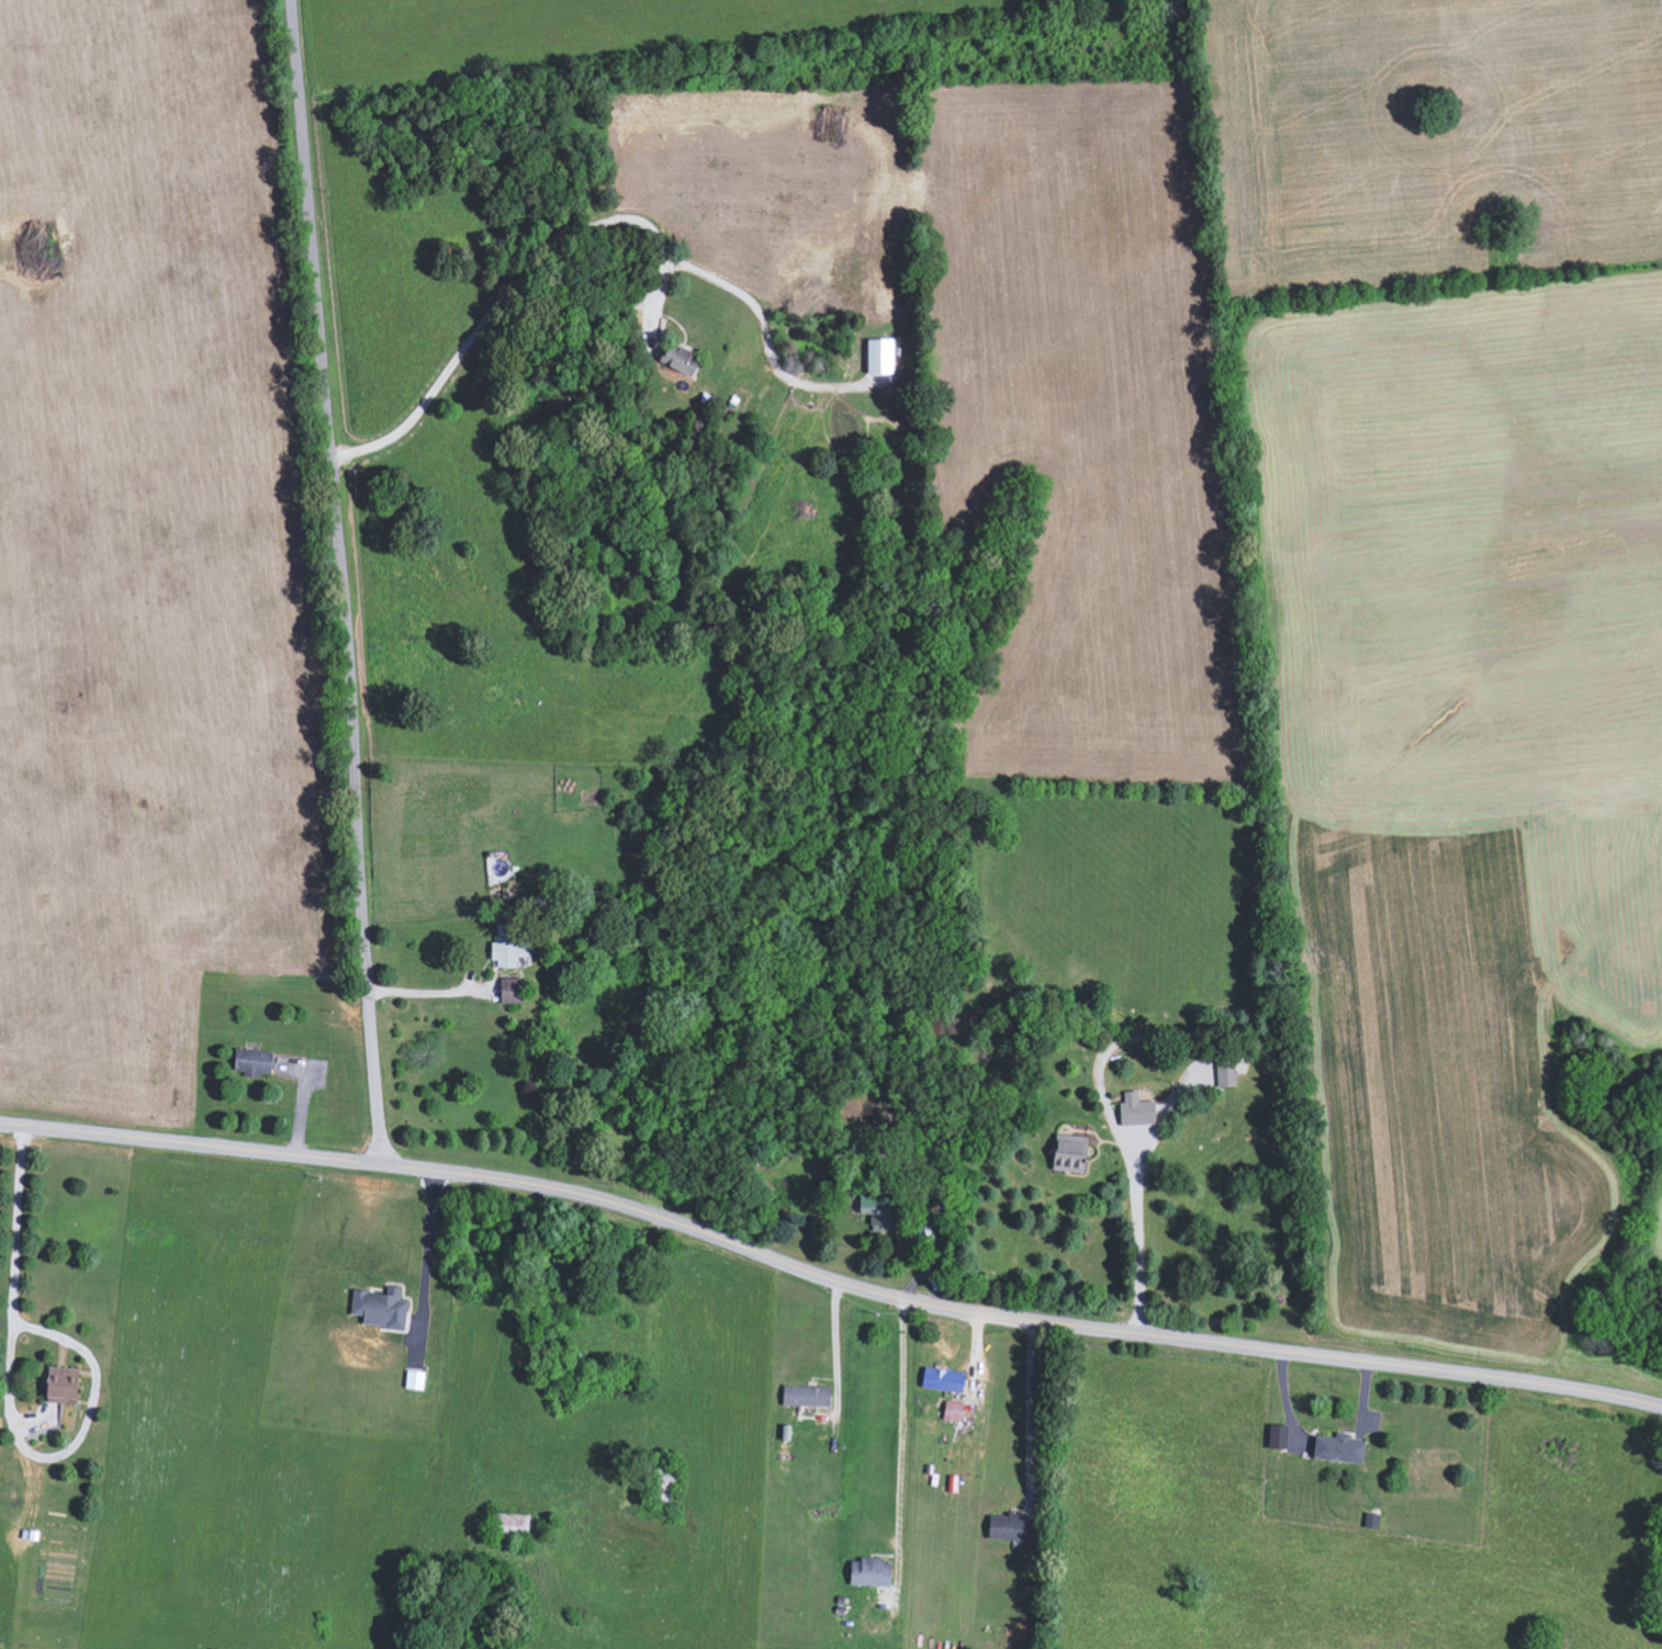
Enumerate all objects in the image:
road: (626, 33)
road: (514, 282)
building: (884, 355)
building: (684, 359)
road: (346, 581)
building: (513, 946)
building: (515, 991)
road: (428, 993)
building: (255, 1062)
building: (1228, 1073)
building: (1138, 1110)
building: (1073, 1153)
road: (1136, 1186)
building: (883, 1212)
building: (927, 1234)
road: (428, 1241)
road: (829, 1273)
building: (382, 1308)
road: (832, 1346)
building: (417, 1380)
building: (945, 1380)
building: (65, 1386)
building: (809, 1397)
road: (12, 1409)
building: (955, 1411)
road: (1031, 1413)
building: (1280, 1437)
road: (899, 1448)
building: (1341, 1448)
building: (513, 1527)
building: (1013, 1527)
building: (872, 1572)

